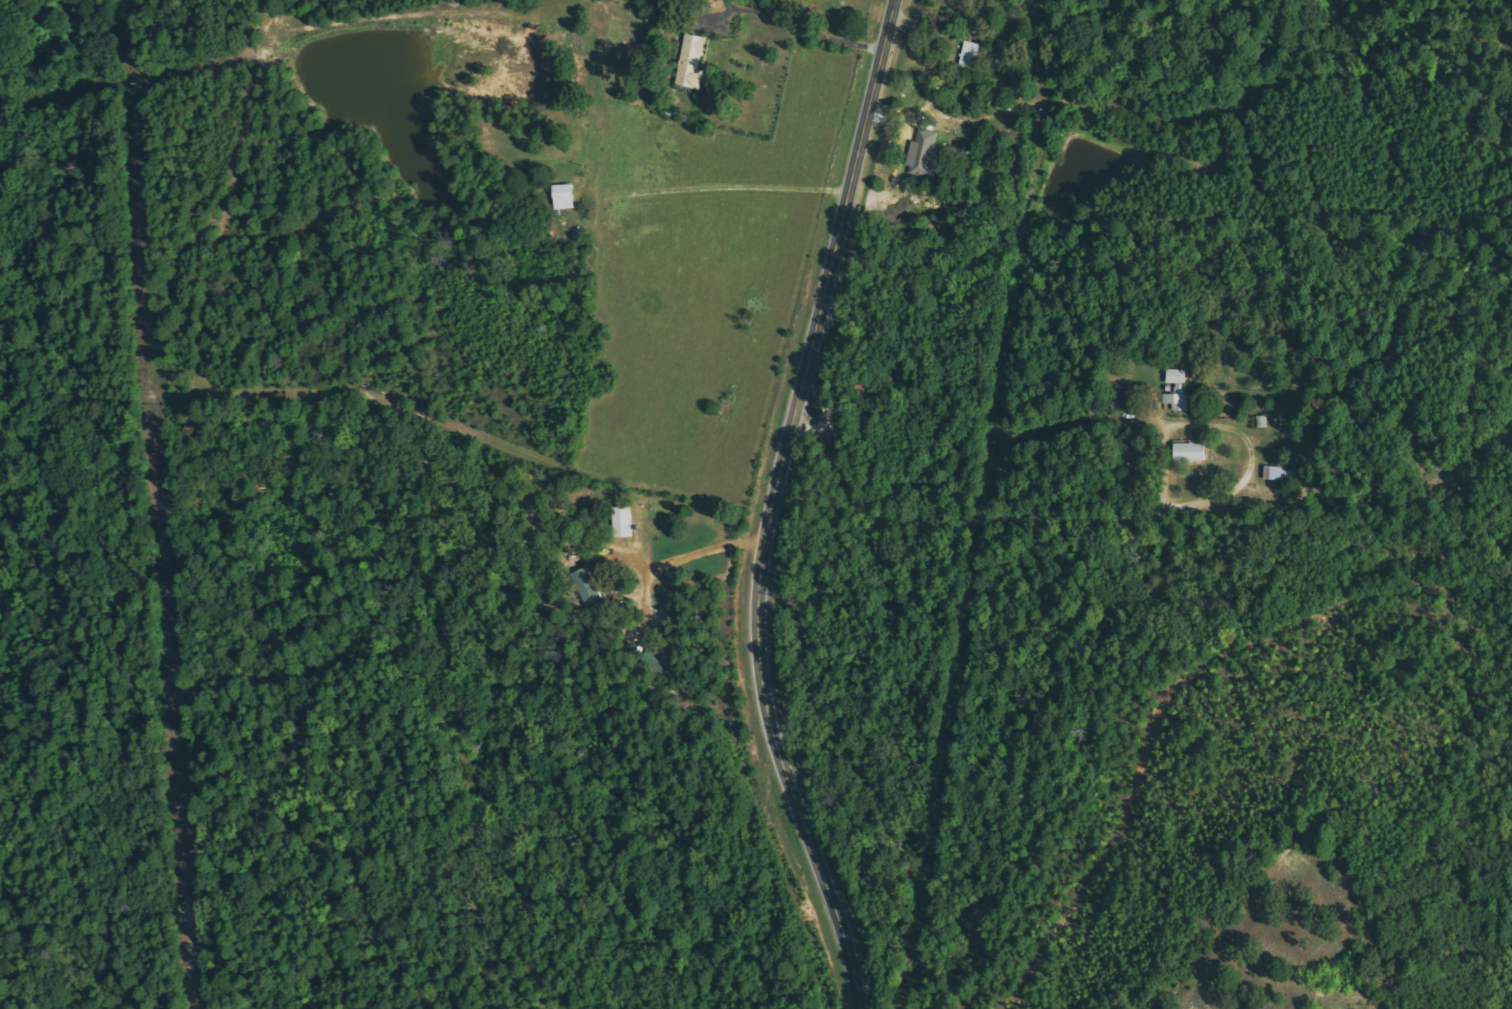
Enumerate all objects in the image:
building: (970, 55)
building: (692, 61)
building: (923, 153)
building: (563, 196)
building: (1177, 389)
building: (1189, 452)
building: (1274, 473)
road: (773, 505)
building: (622, 521)
building: (588, 587)

